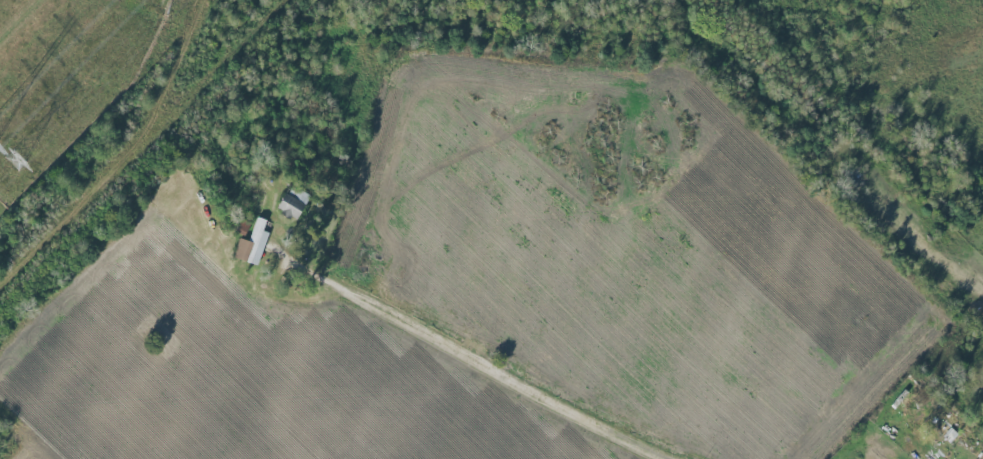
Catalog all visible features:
railway: (191, 96)
power tower: (16, 160)
railway: (124, 160)
building: (293, 202)
building: (252, 243)
road: (509, 372)

